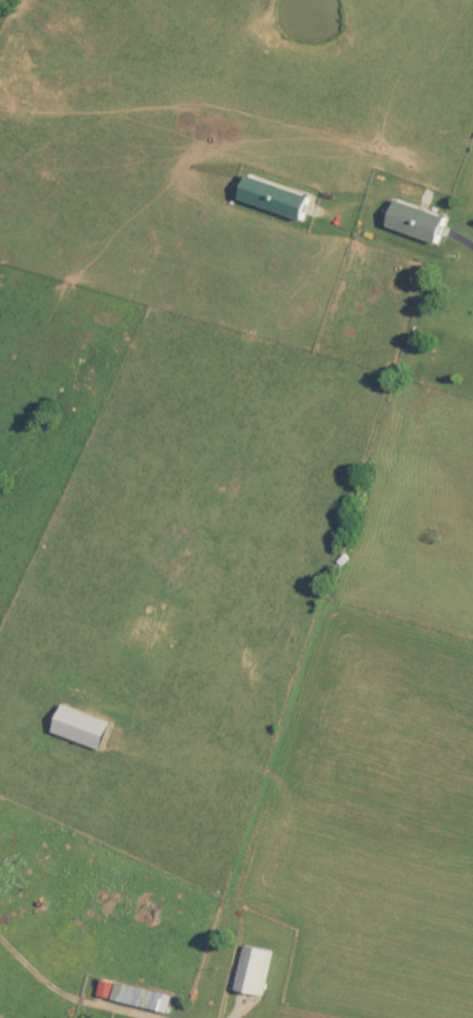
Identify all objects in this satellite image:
building: (281, 199)
building: (423, 222)
building: (86, 728)
building: (256, 971)
building: (108, 990)
road: (63, 995)
building: (145, 999)

